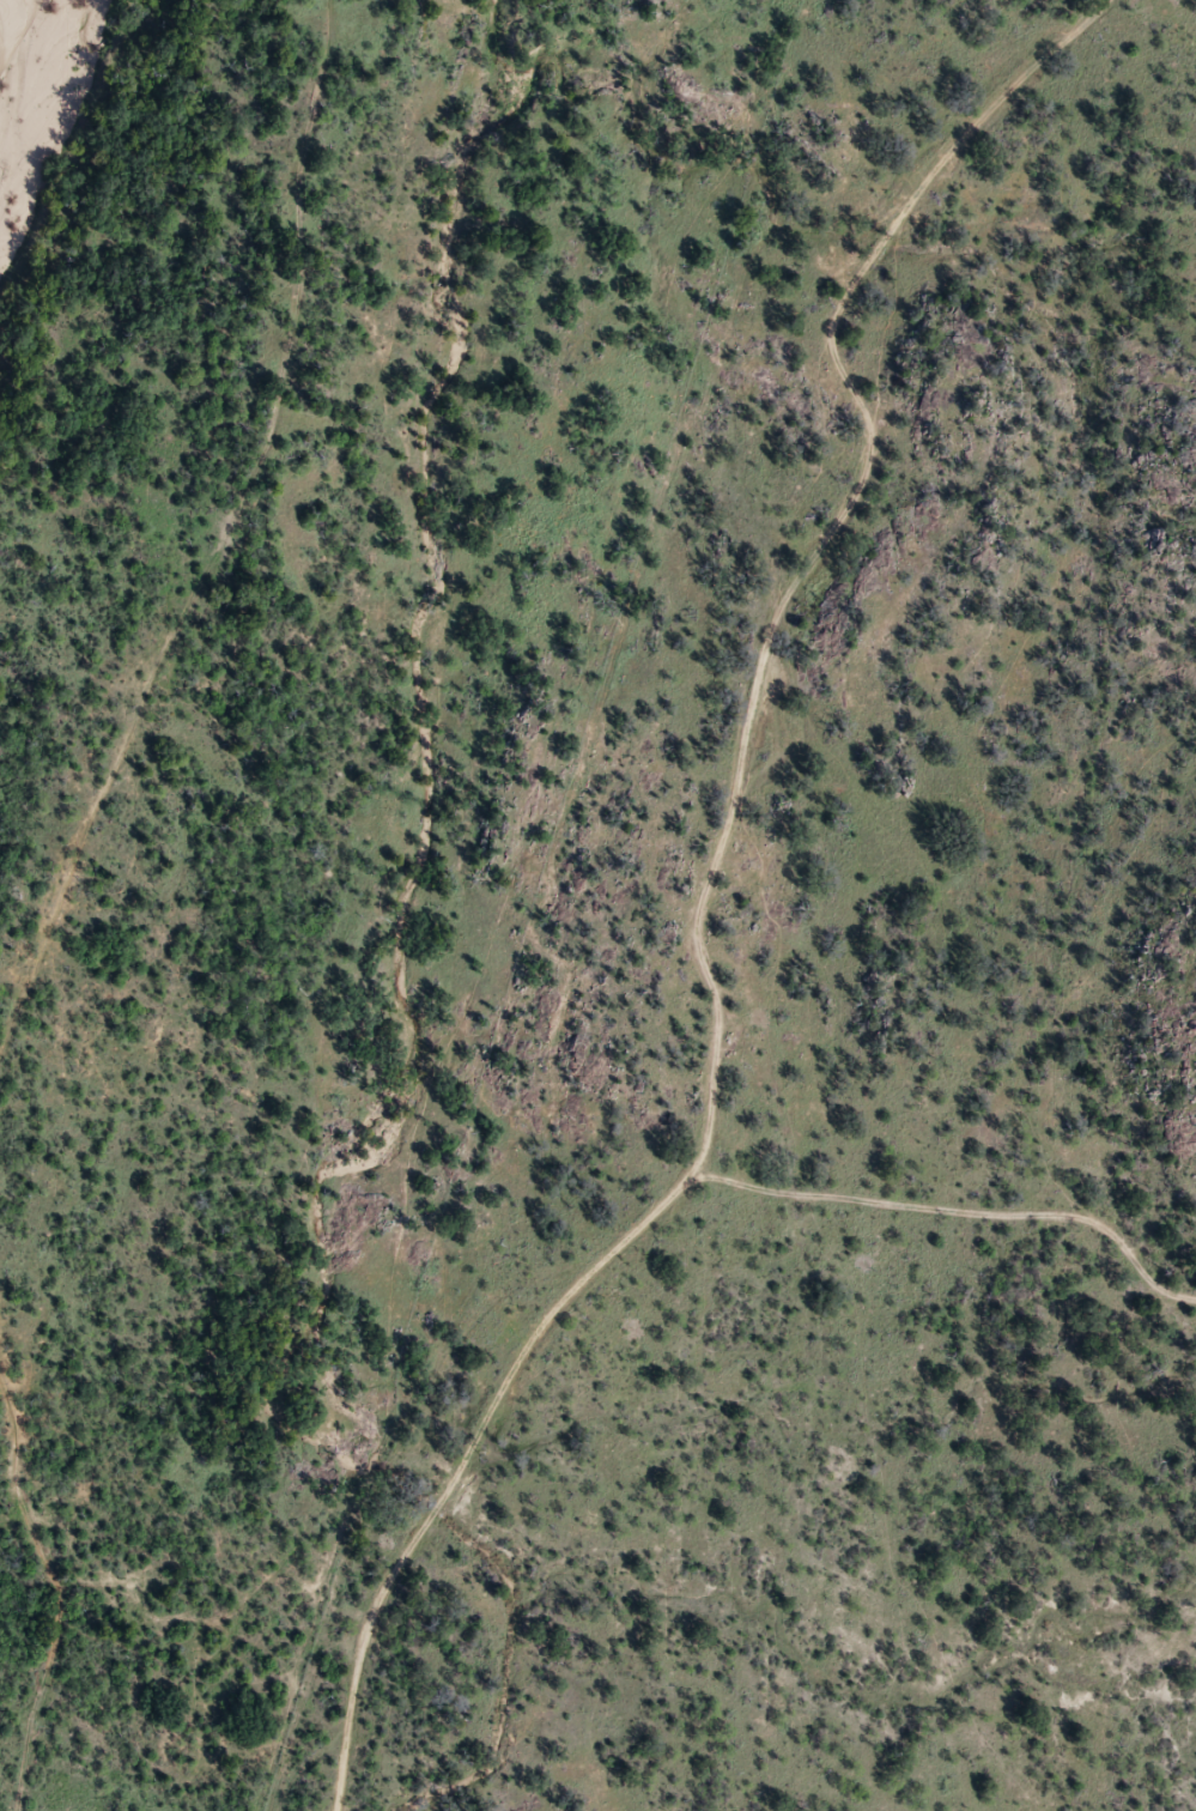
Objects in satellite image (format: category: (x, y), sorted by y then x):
river: (7, 22)
road: (698, 900)

